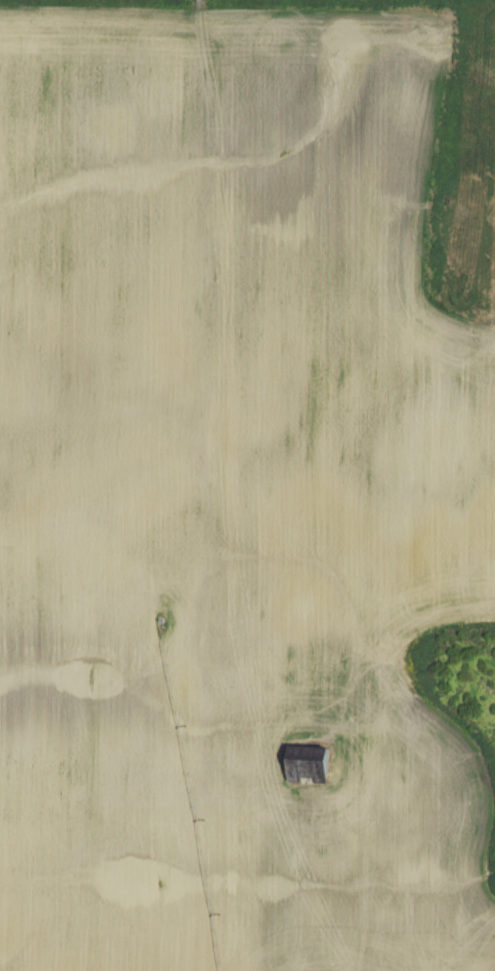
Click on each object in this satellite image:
building: (303, 764)

